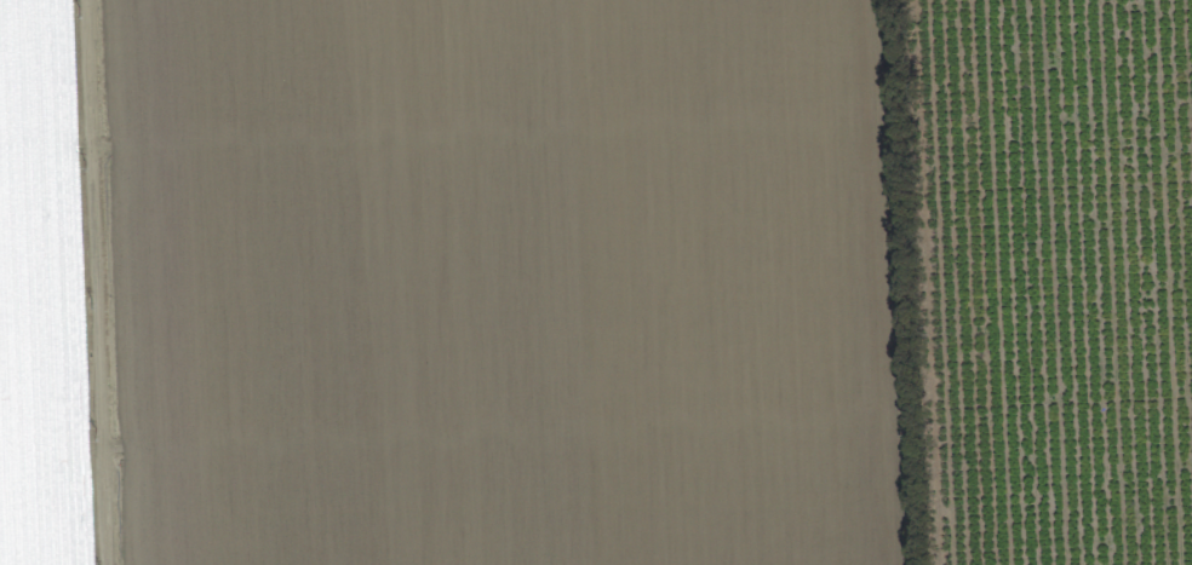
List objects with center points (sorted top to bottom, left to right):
crop: (596, 282)

